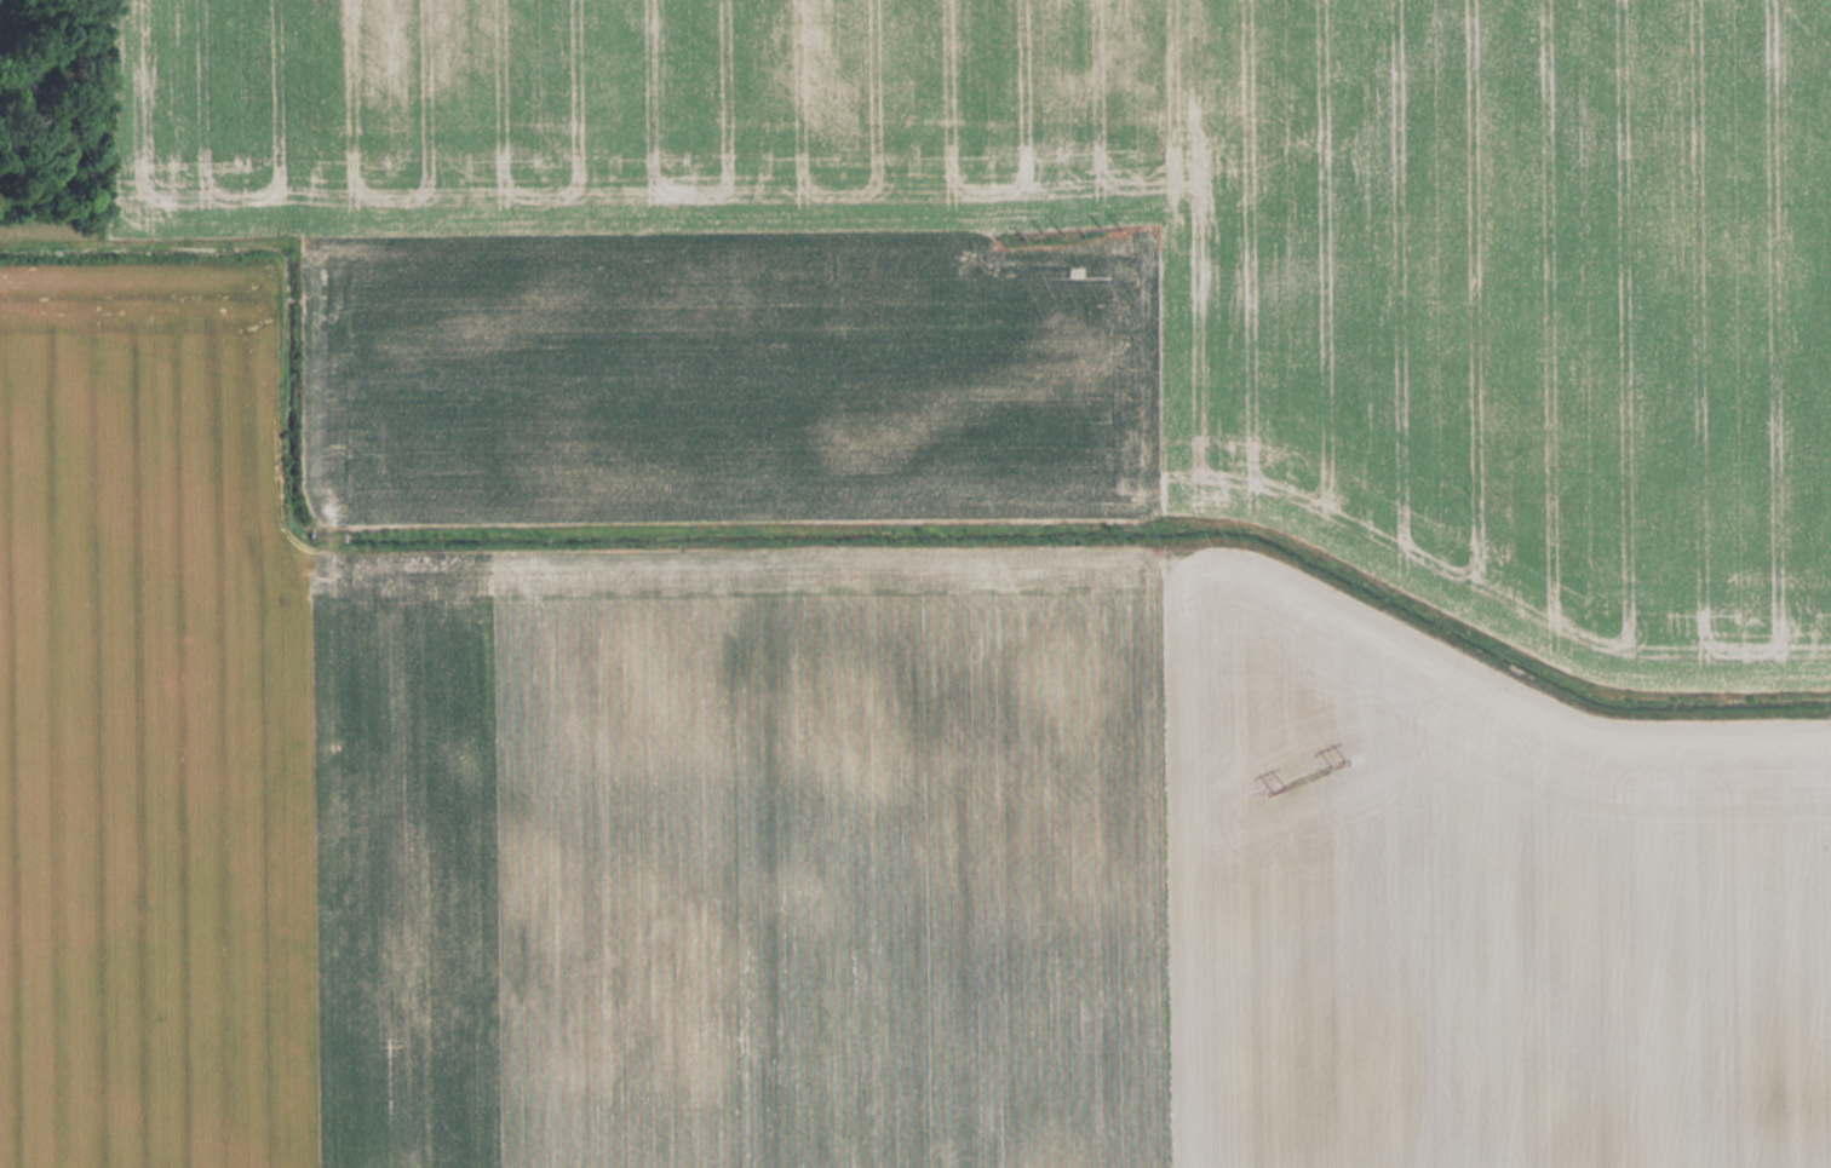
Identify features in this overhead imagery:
power tower: (1102, 230)
power tower: (1041, 231)
power tower: (1338, 763)
power tower: (1279, 787)

